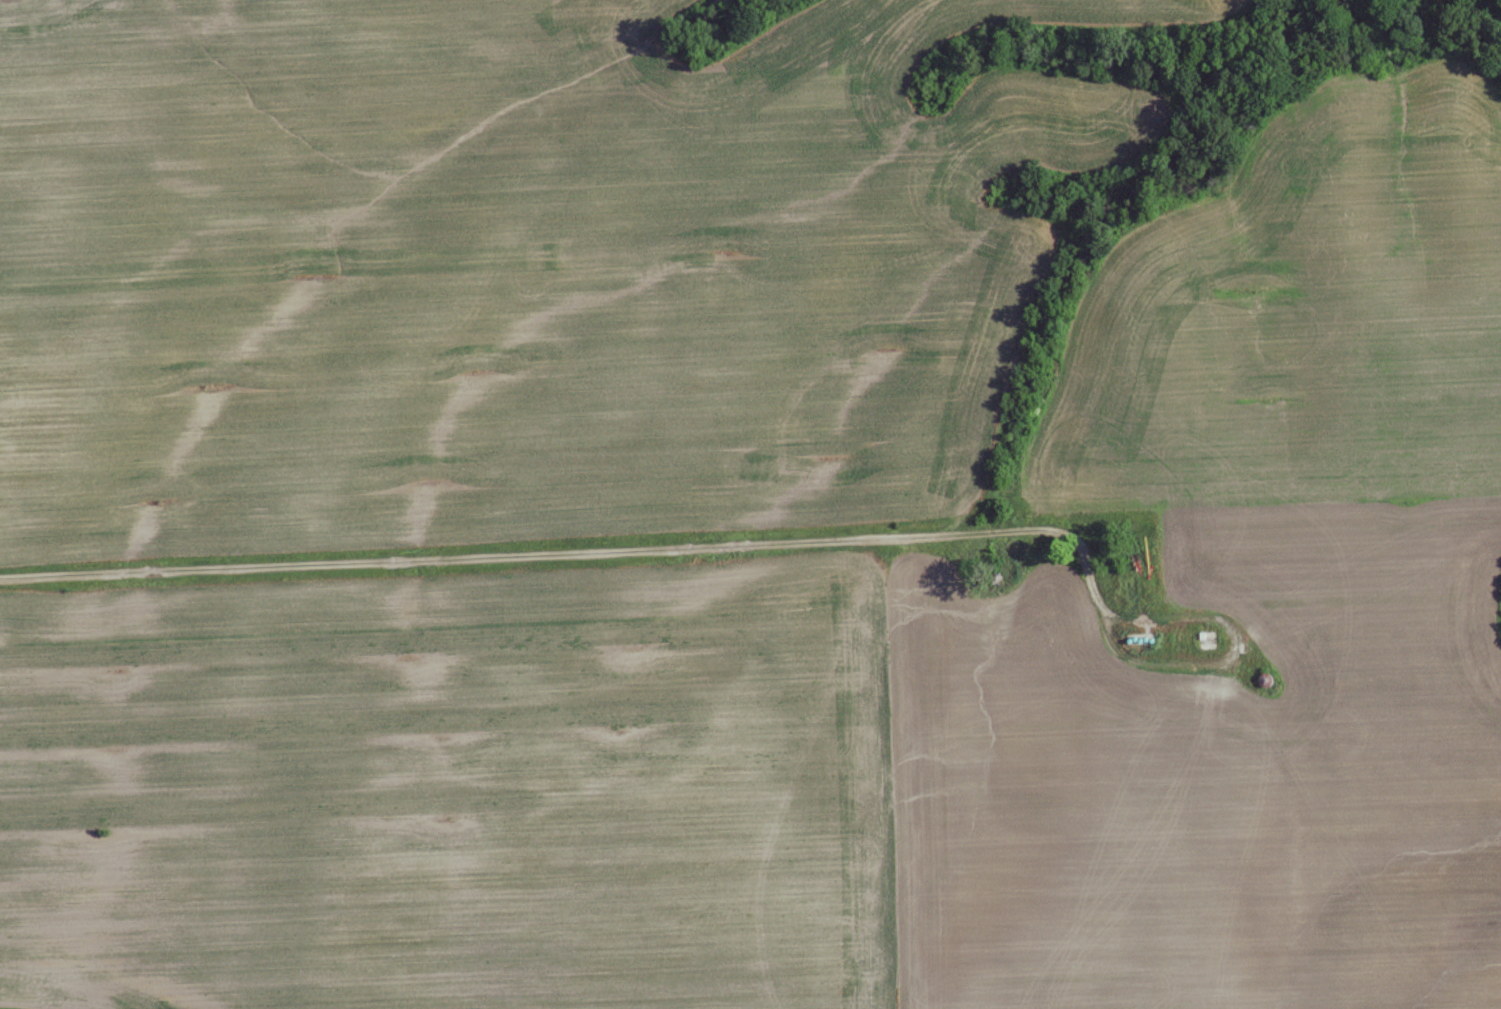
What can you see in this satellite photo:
building: (1206, 639)

